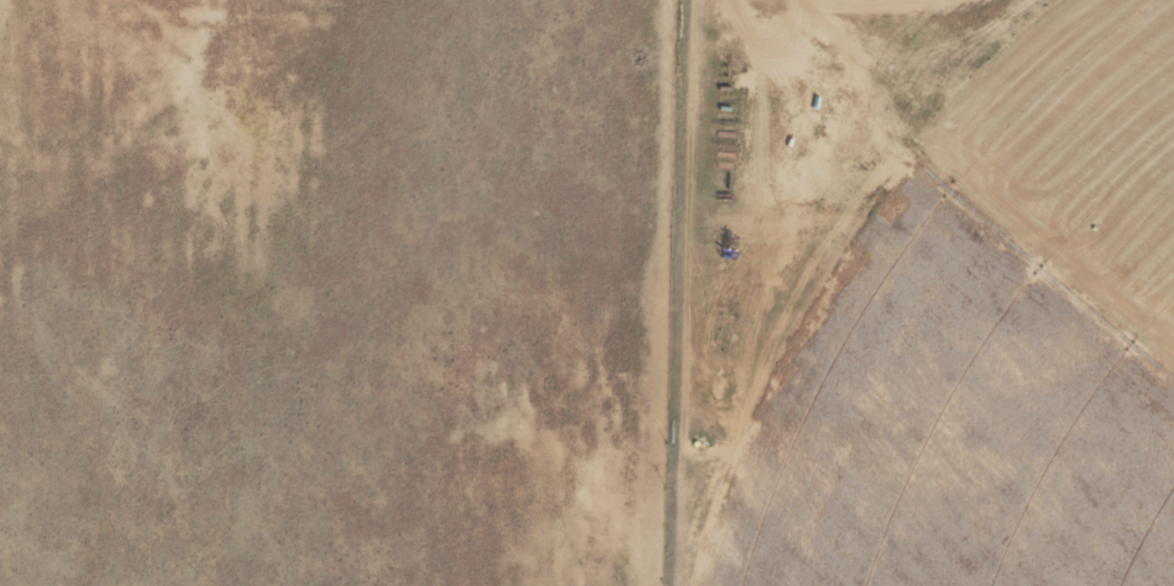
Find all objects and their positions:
road: (699, 212)

